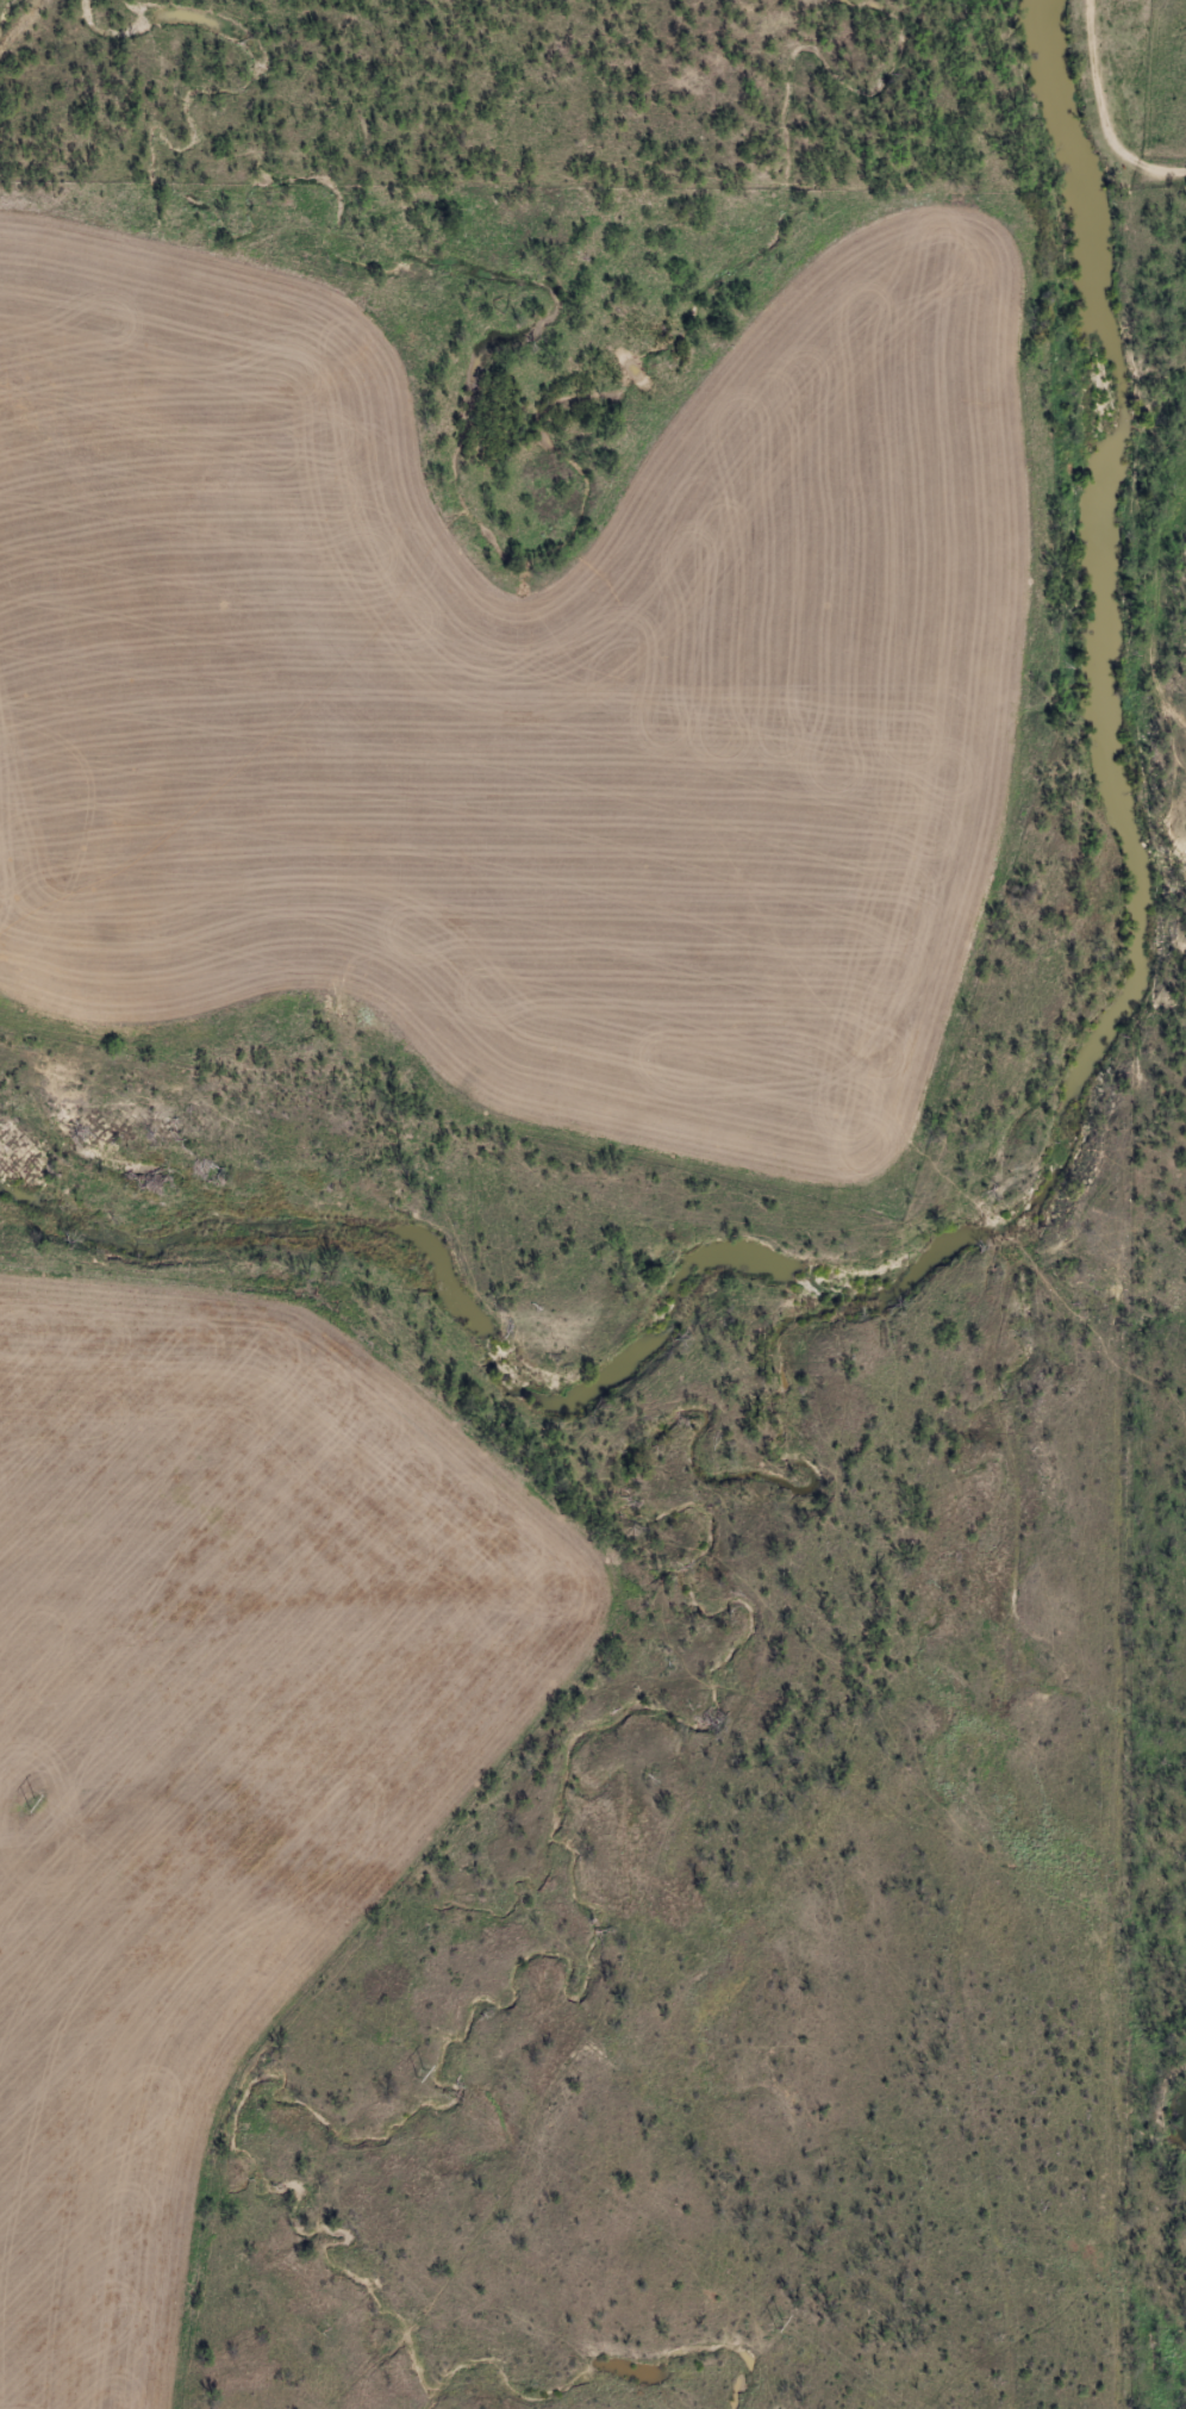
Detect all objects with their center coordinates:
road: (1148, 86)
road: (94, 1073)
power tower: (35, 1805)
power tower: (423, 2072)
power tower: (780, 2321)

